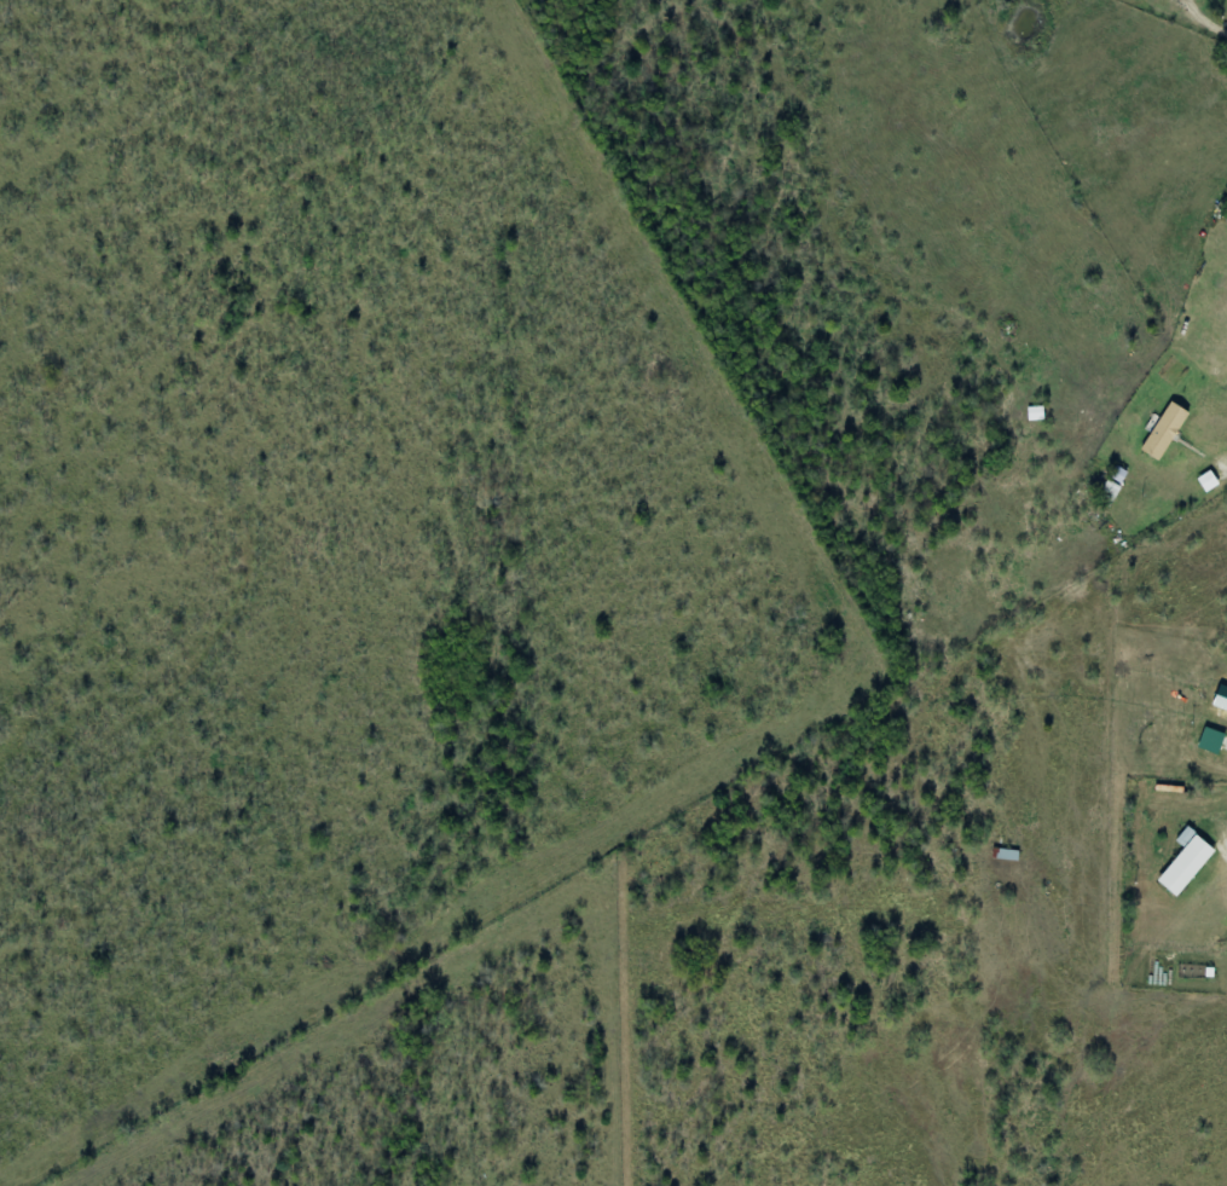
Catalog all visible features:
building: (1167, 433)
building: (1209, 481)
building: (1222, 698)
building: (1188, 861)

